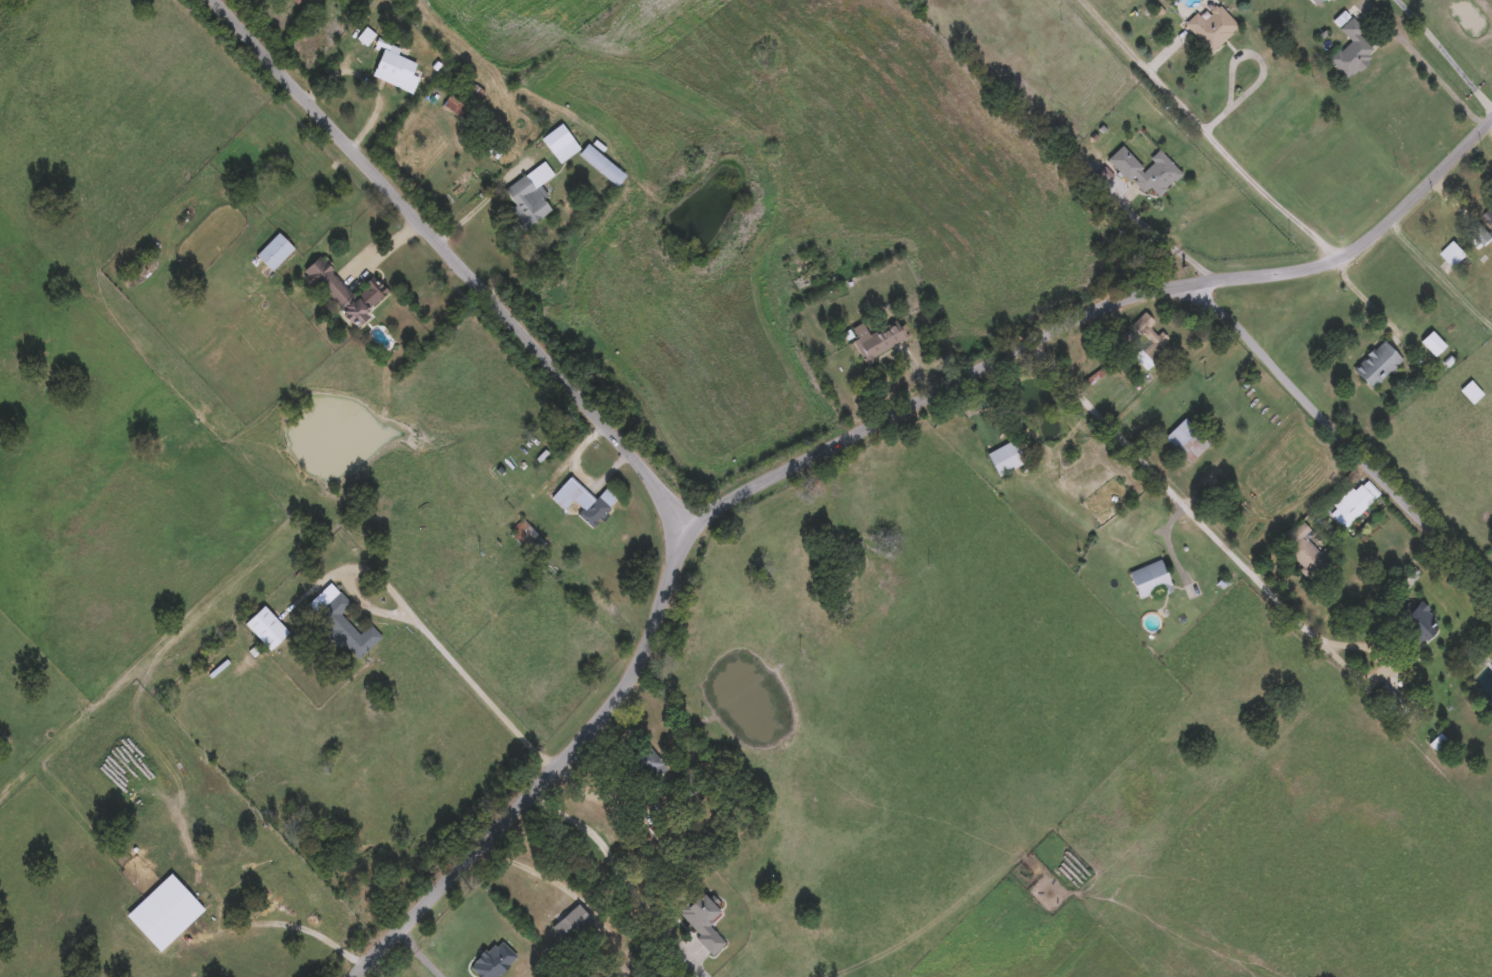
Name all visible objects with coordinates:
building: (295, 0)
building: (1211, 24)
road: (1451, 49)
building: (1351, 50)
building: (392, 66)
road: (369, 78)
road: (1441, 80)
road: (1217, 133)
building: (598, 161)
building: (1146, 169)
building: (529, 192)
road: (474, 207)
building: (1489, 214)
road: (1167, 236)
building: (274, 250)
building: (1453, 251)
road: (454, 256)
building: (802, 268)
road: (1440, 273)
building: (344, 289)
road: (1133, 293)
road: (1373, 299)
building: (877, 337)
building: (1148, 339)
building: (1432, 342)
building: (1377, 363)
building: (1471, 391)
road: (1338, 426)
building: (1186, 439)
building: (1008, 456)
road: (1178, 490)
building: (582, 499)
road: (719, 501)
building: (1352, 504)
road: (1168, 538)
building: (1302, 546)
building: (513, 559)
building: (1149, 578)
building: (340, 618)
building: (266, 625)
building: (1412, 630)
road: (456, 661)
building: (1389, 701)
building: (1439, 742)
building: (647, 763)
road: (554, 771)
building: (661, 824)
road: (615, 863)
road: (534, 869)
building: (164, 911)
building: (700, 920)
road: (424, 952)
road: (377, 969)

